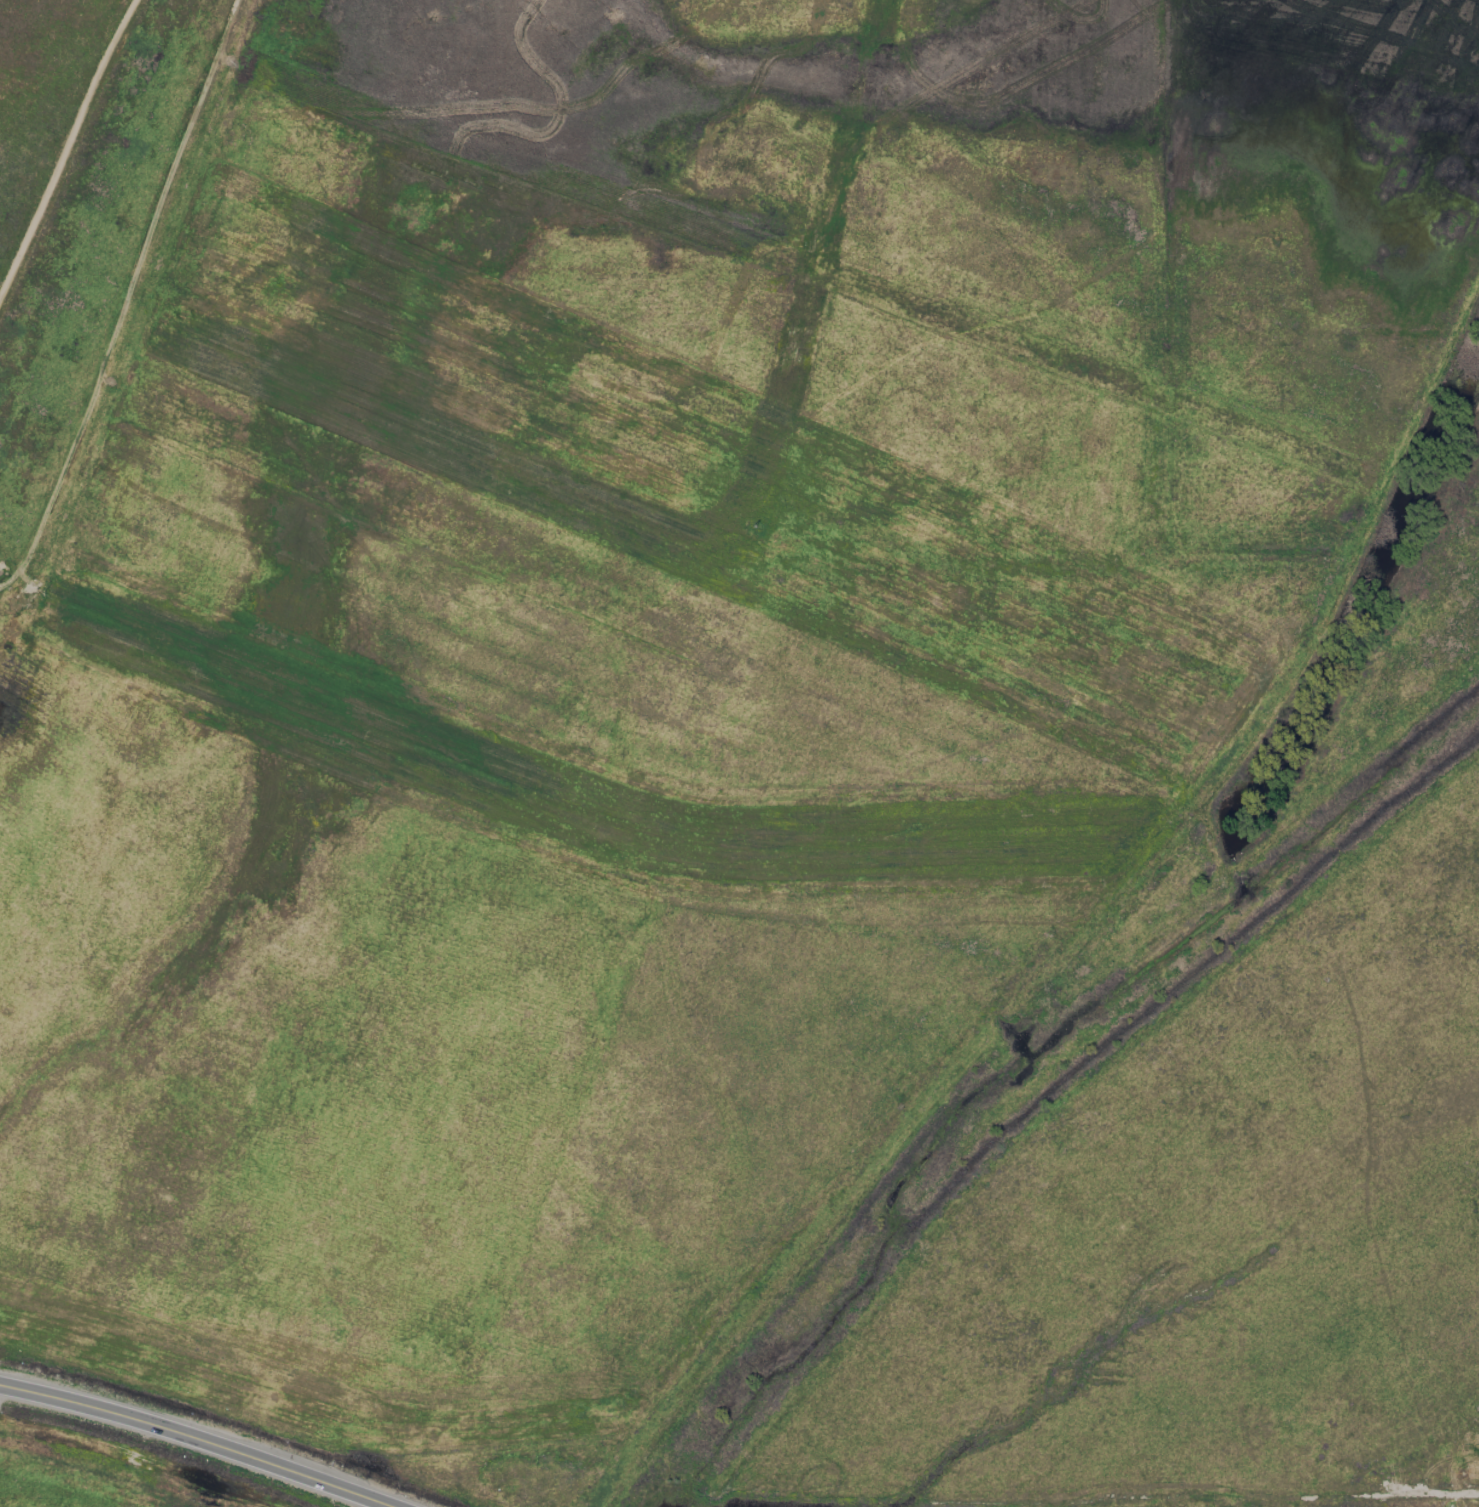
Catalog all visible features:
river: (1048, 1082)
road: (199, 1440)

